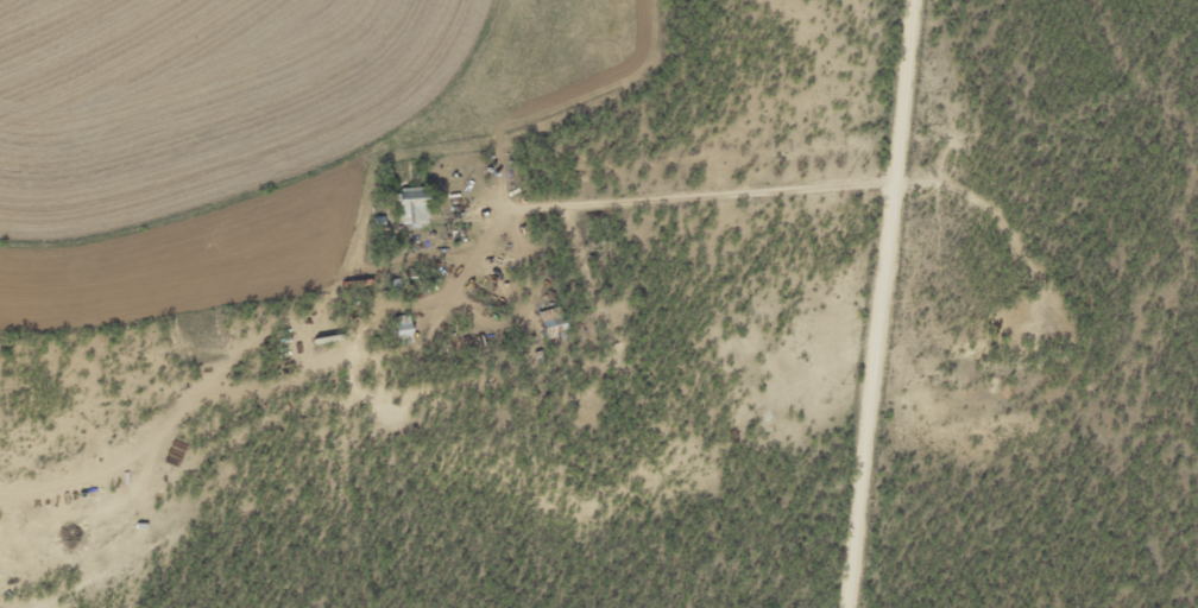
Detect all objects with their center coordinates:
road: (469, 252)
road: (926, 305)

